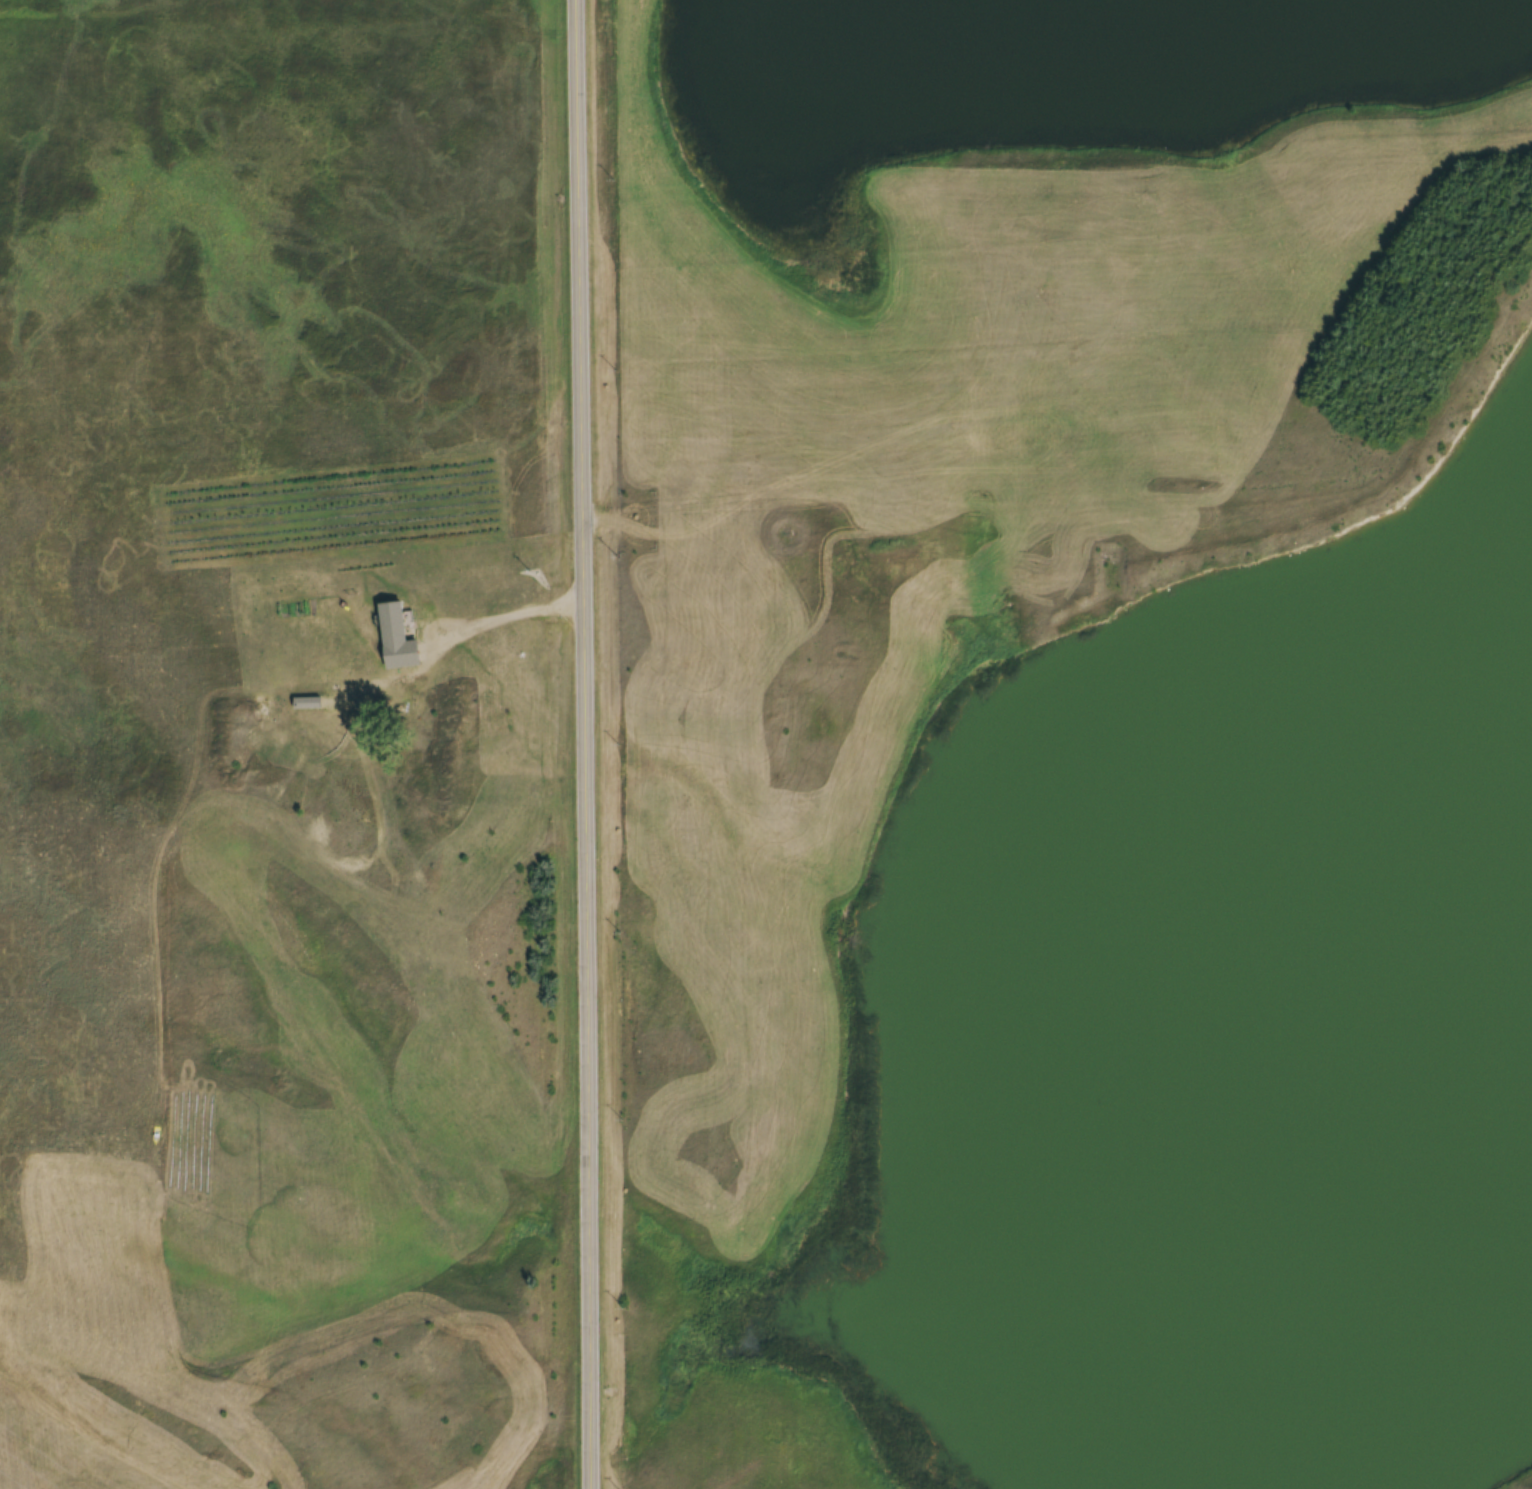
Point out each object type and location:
road: (590, 744)

